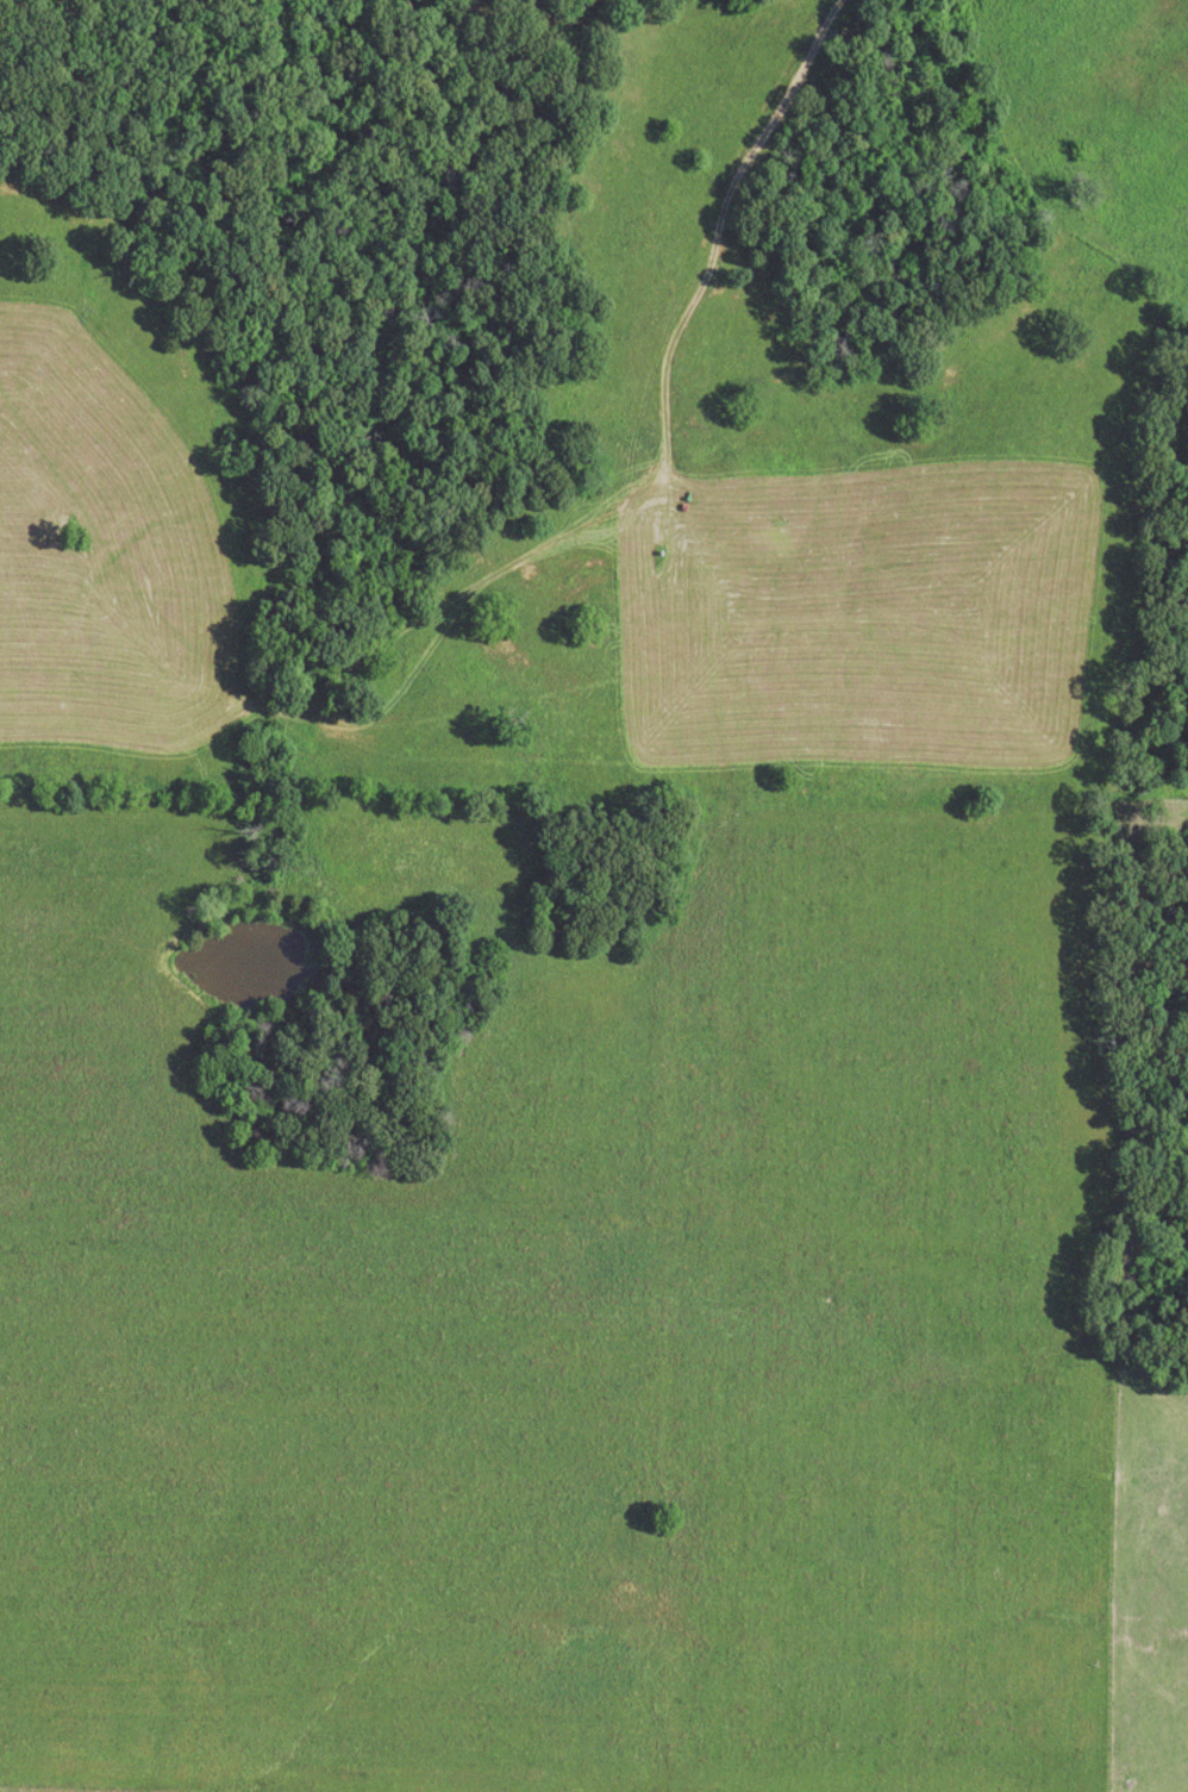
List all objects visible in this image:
building: (699, 858)

